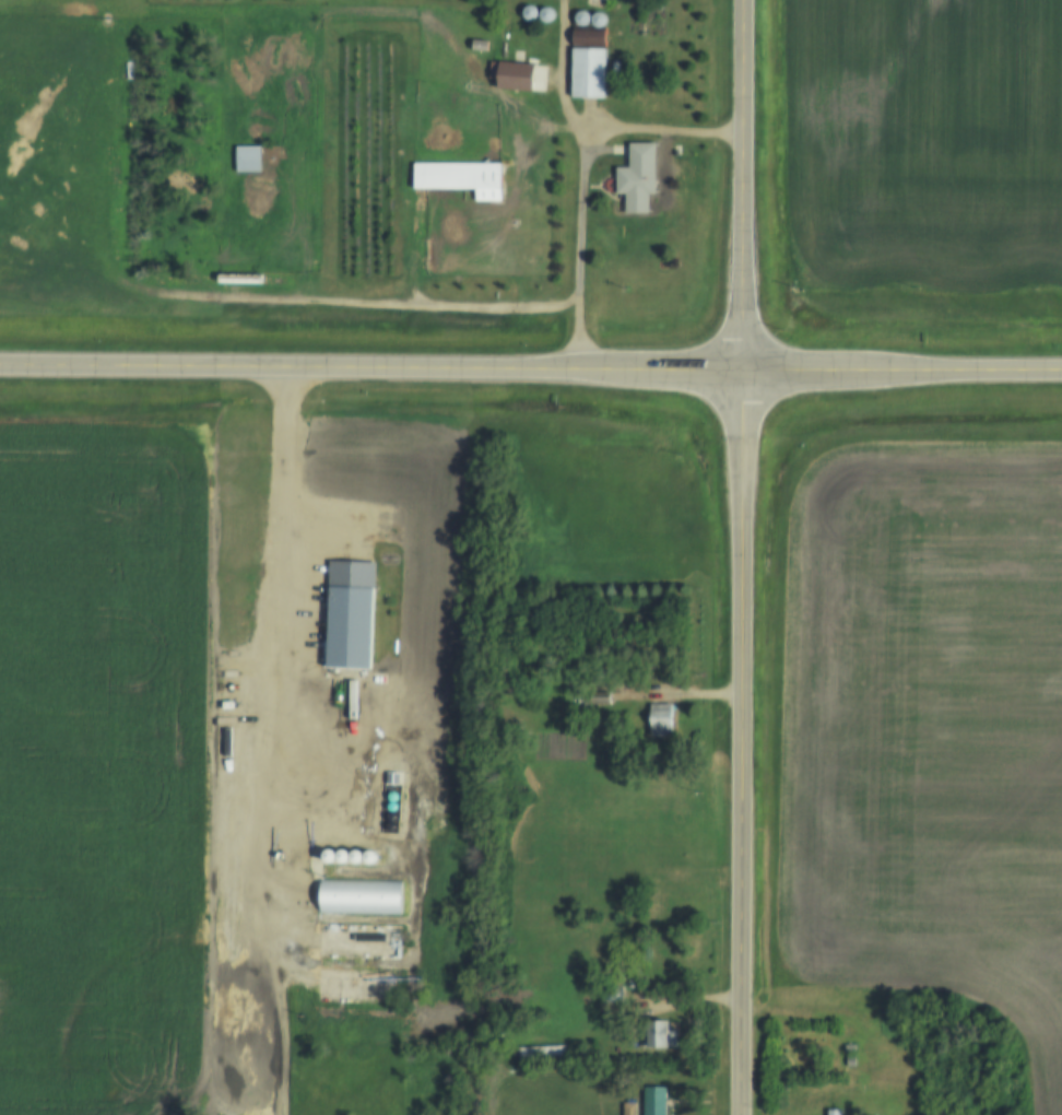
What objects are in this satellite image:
building: (530, 13)
silo: (530, 13)
building: (546, 15)
silo: (546, 15)
building: (581, 20)
silo: (581, 20)
building: (599, 21)
silo: (599, 21)
building: (590, 39)
building: (481, 46)
building: (590, 74)
building: (511, 75)
road: (603, 130)
building: (250, 159)
building: (462, 178)
building: (641, 178)
road: (753, 186)
road: (587, 249)
road: (363, 303)
road: (35, 364)
road: (566, 371)
building: (349, 629)
road: (267, 665)
building: (602, 697)
building: (662, 720)
road: (744, 743)
building: (329, 857)
silo: (329, 857)
building: (342, 857)
silo: (342, 857)
building: (355, 858)
silo: (355, 858)
building: (369, 858)
silo: (369, 858)
building: (359, 897)
building: (362, 948)
building: (611, 995)
building: (663, 1033)
road: (278, 1037)
building: (850, 1048)
building: (850, 1061)
building: (657, 1101)
building: (630, 1108)
building: (836, 1112)
building: (359, 1113)
building: (409, 1114)

